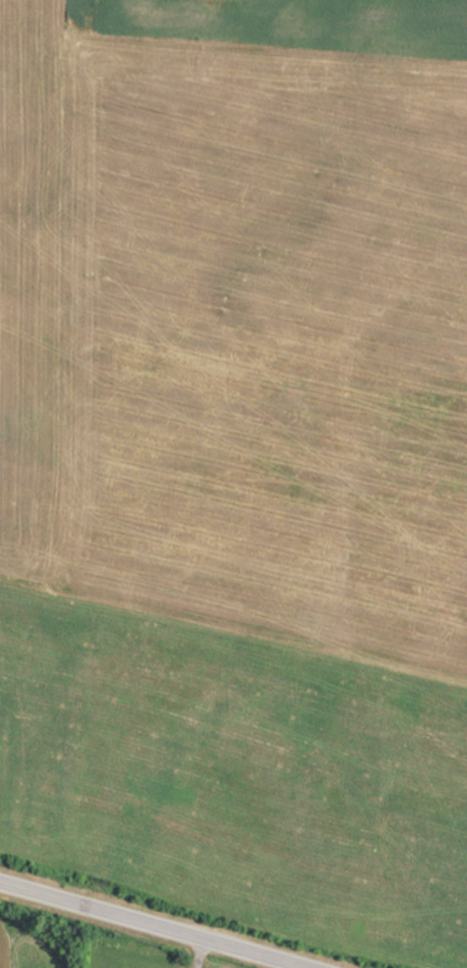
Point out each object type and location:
road: (156, 924)

